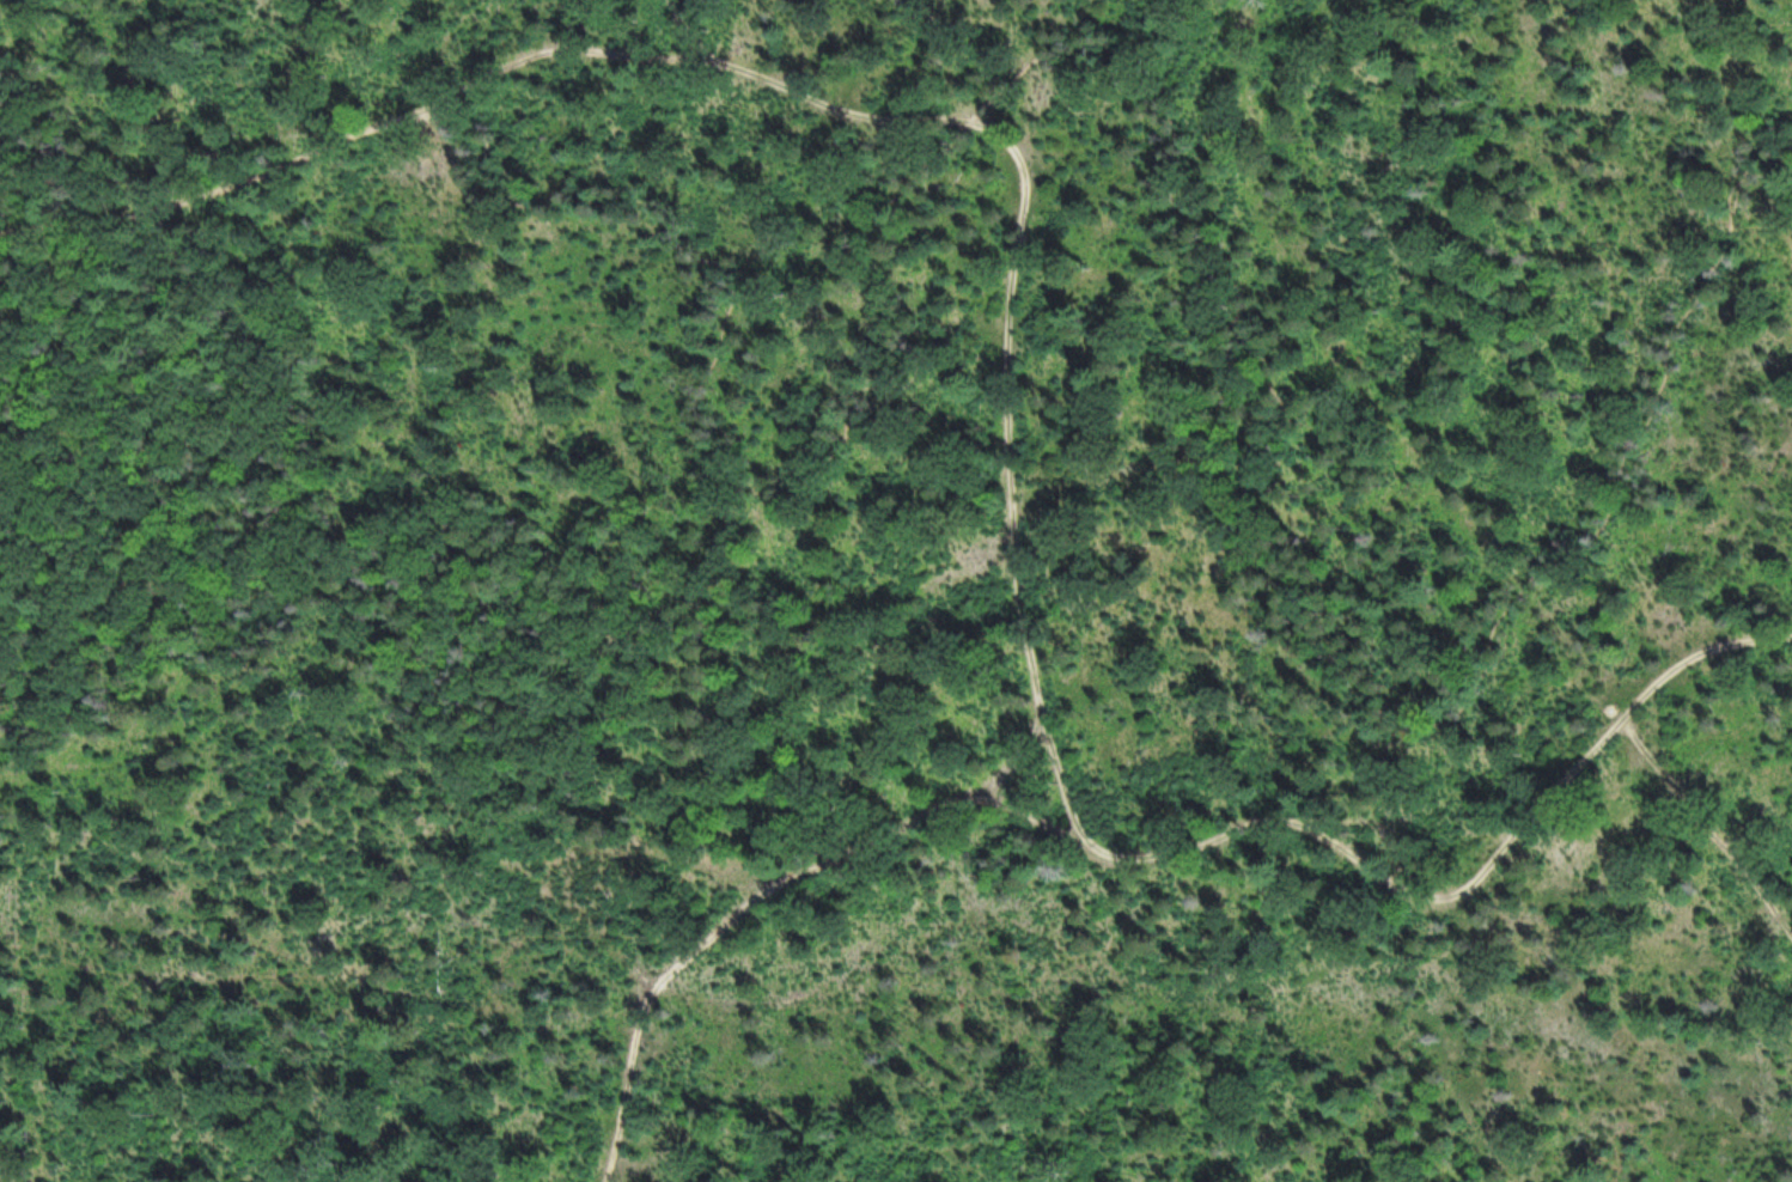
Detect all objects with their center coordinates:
road: (517, 62)
road: (1170, 135)
road: (1016, 491)
road: (1072, 791)
road: (1711, 825)
road: (1156, 854)

